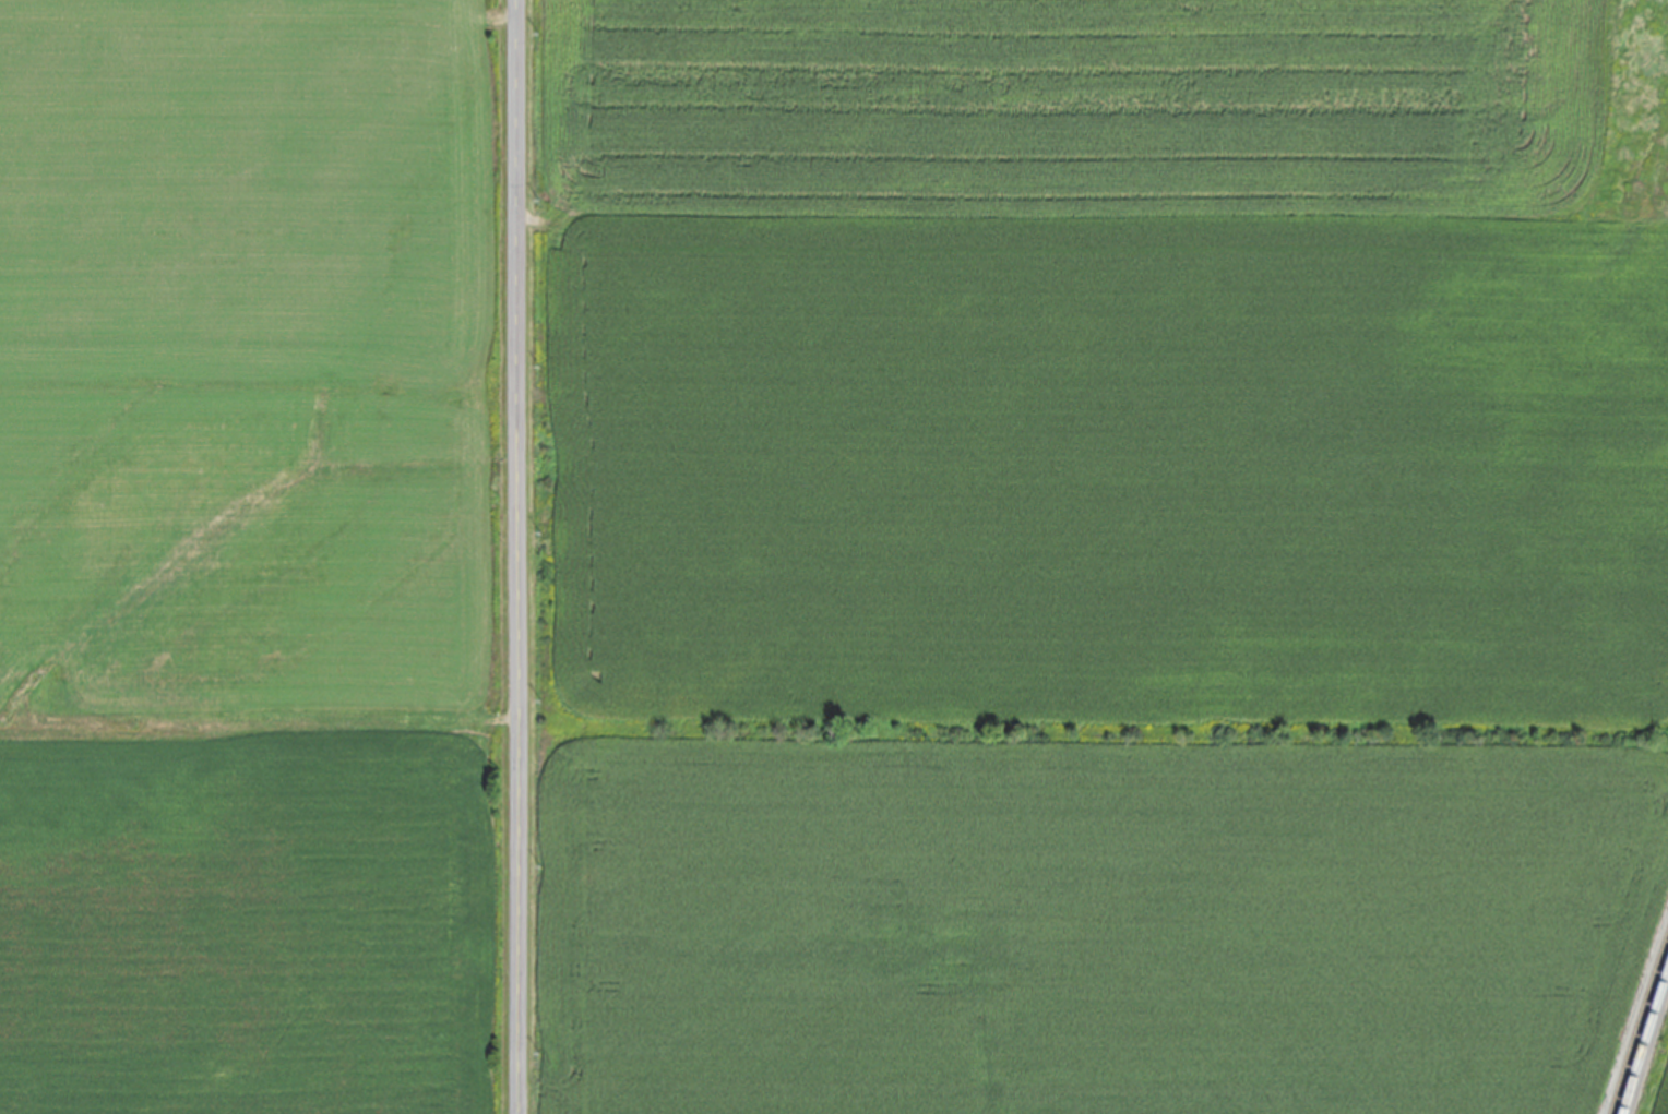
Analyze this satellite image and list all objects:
road: (516, 556)
railway: (1637, 1020)
railway: (1644, 1041)

